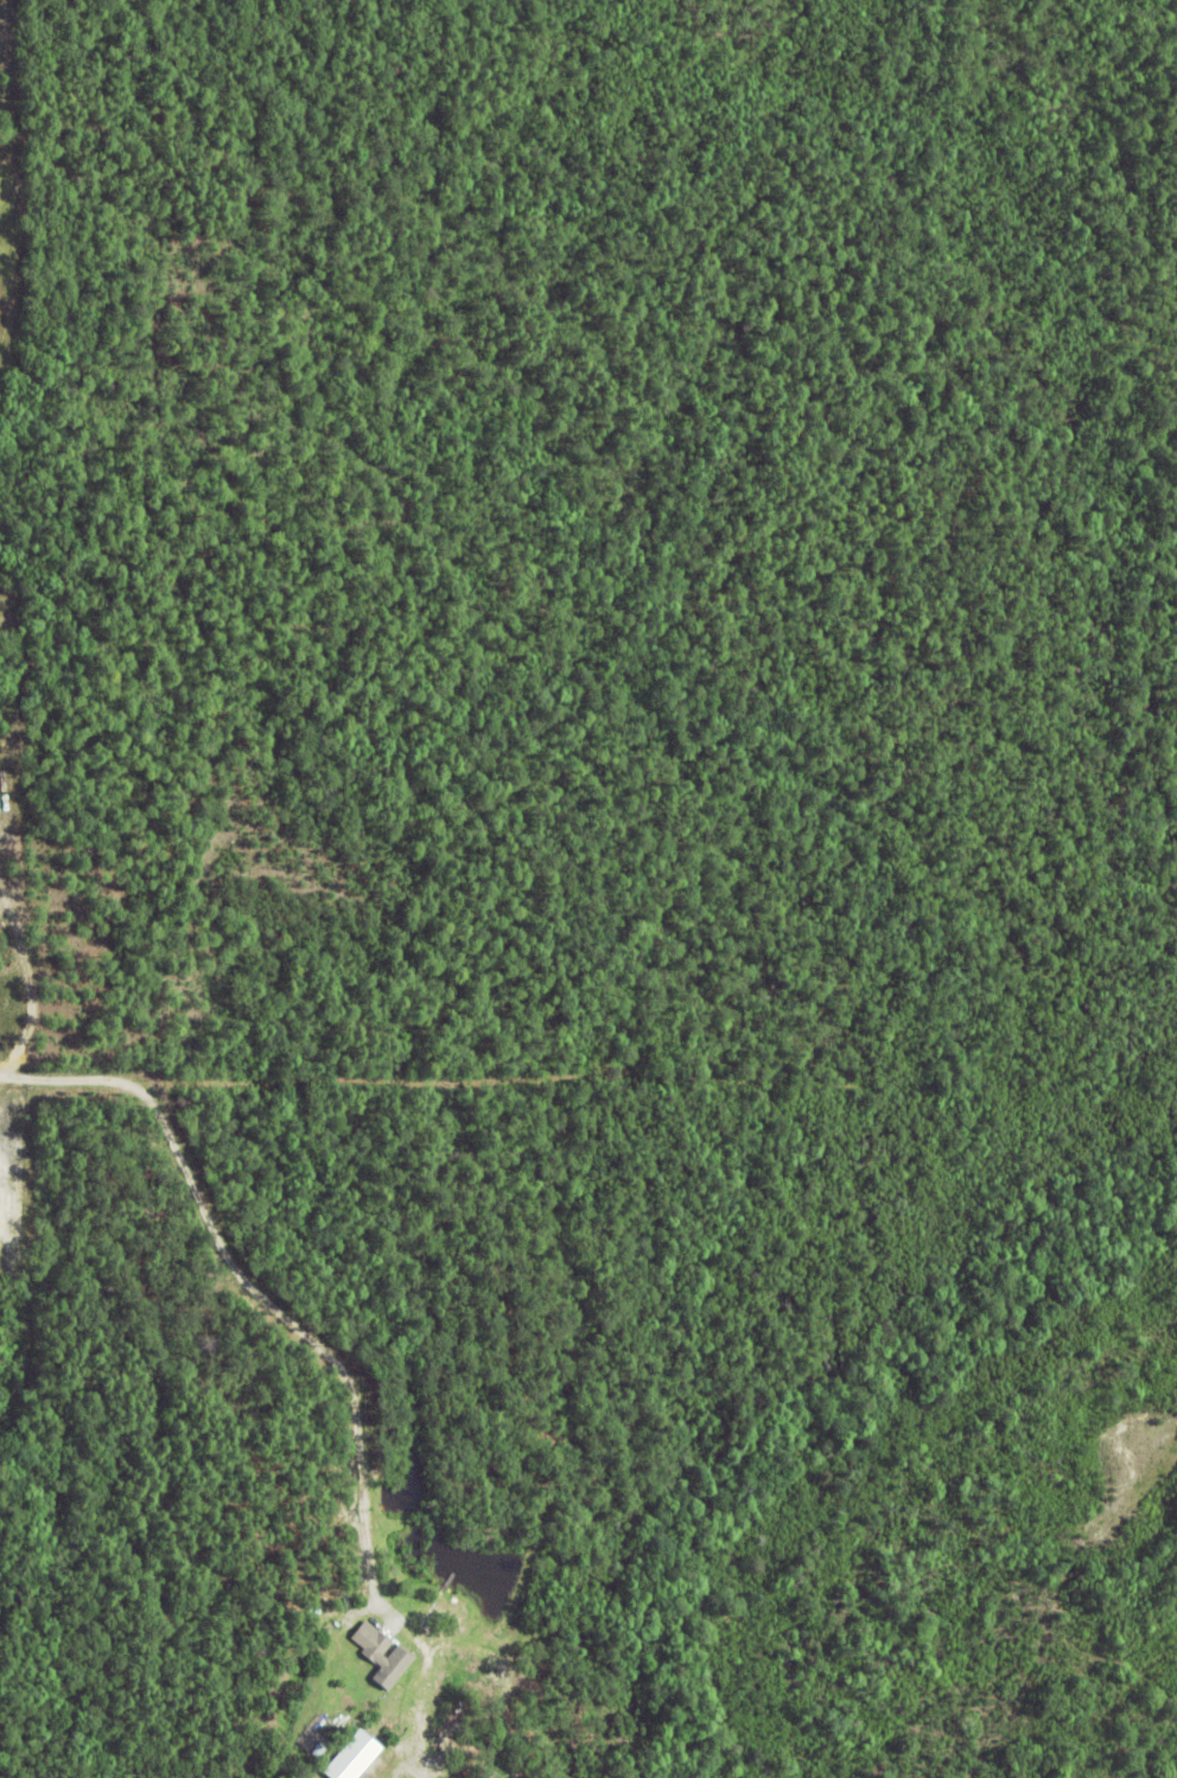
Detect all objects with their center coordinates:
building: (91, 854)
road: (243, 1281)
building: (377, 1652)

